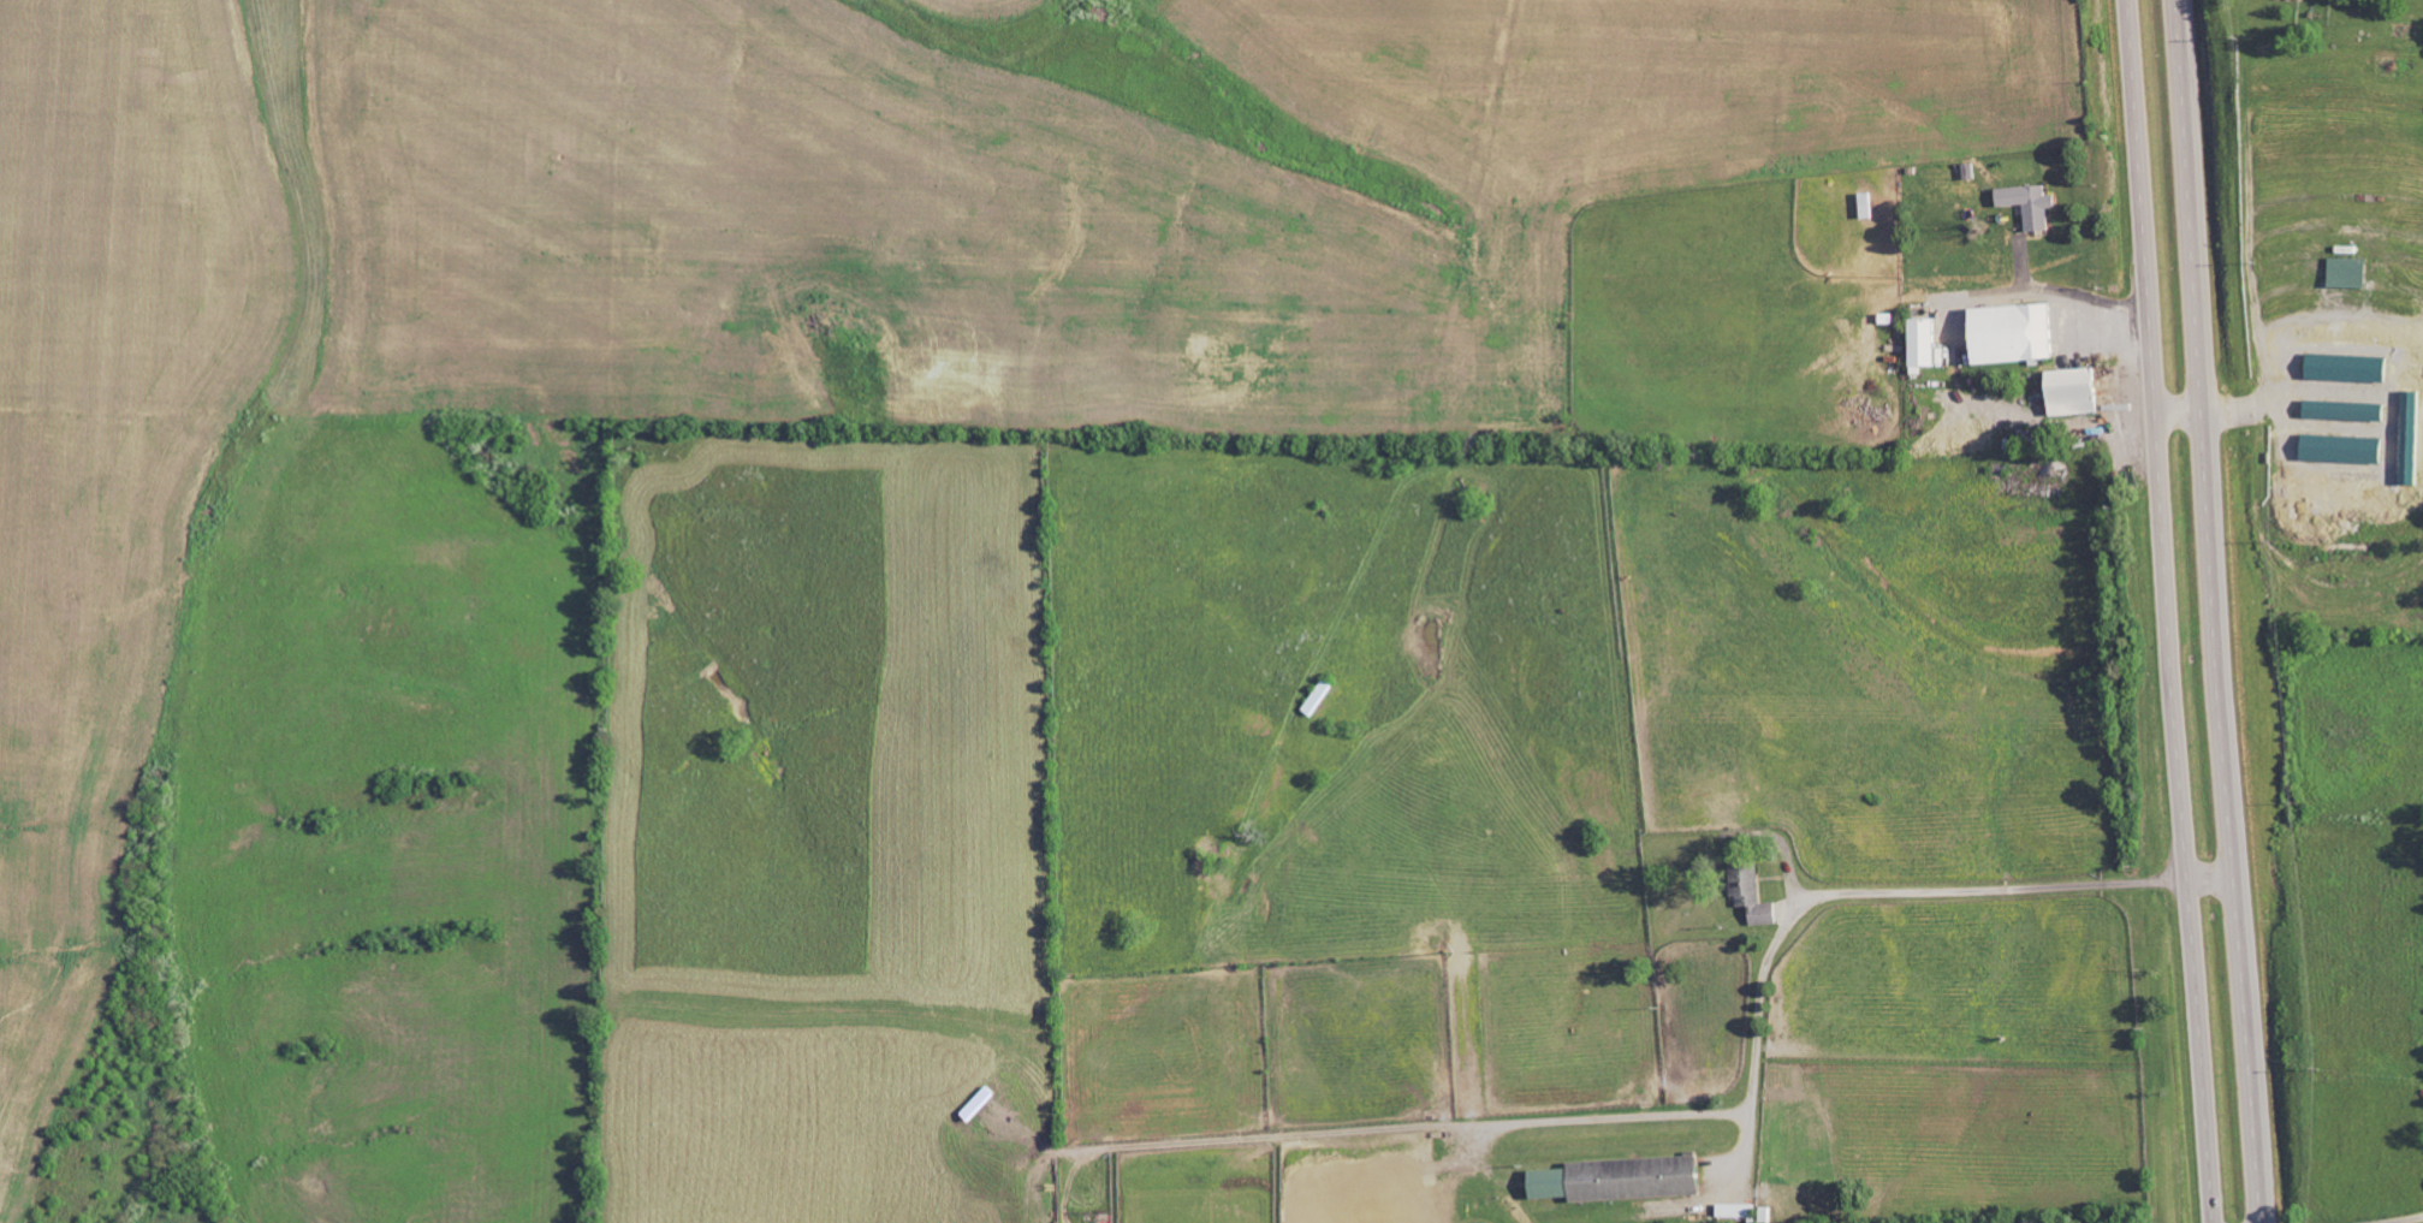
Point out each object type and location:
building: (2032, 204)
building: (1871, 206)
building: (2351, 273)
building: (2018, 333)
building: (1929, 344)
building: (2350, 368)
building: (2075, 392)
road: (2214, 411)
building: (2350, 411)
building: (2348, 449)
road: (2168, 611)
road: (2214, 611)
road: (1846, 893)
building: (1757, 896)
building: (1623, 1180)
building: (1740, 1211)

